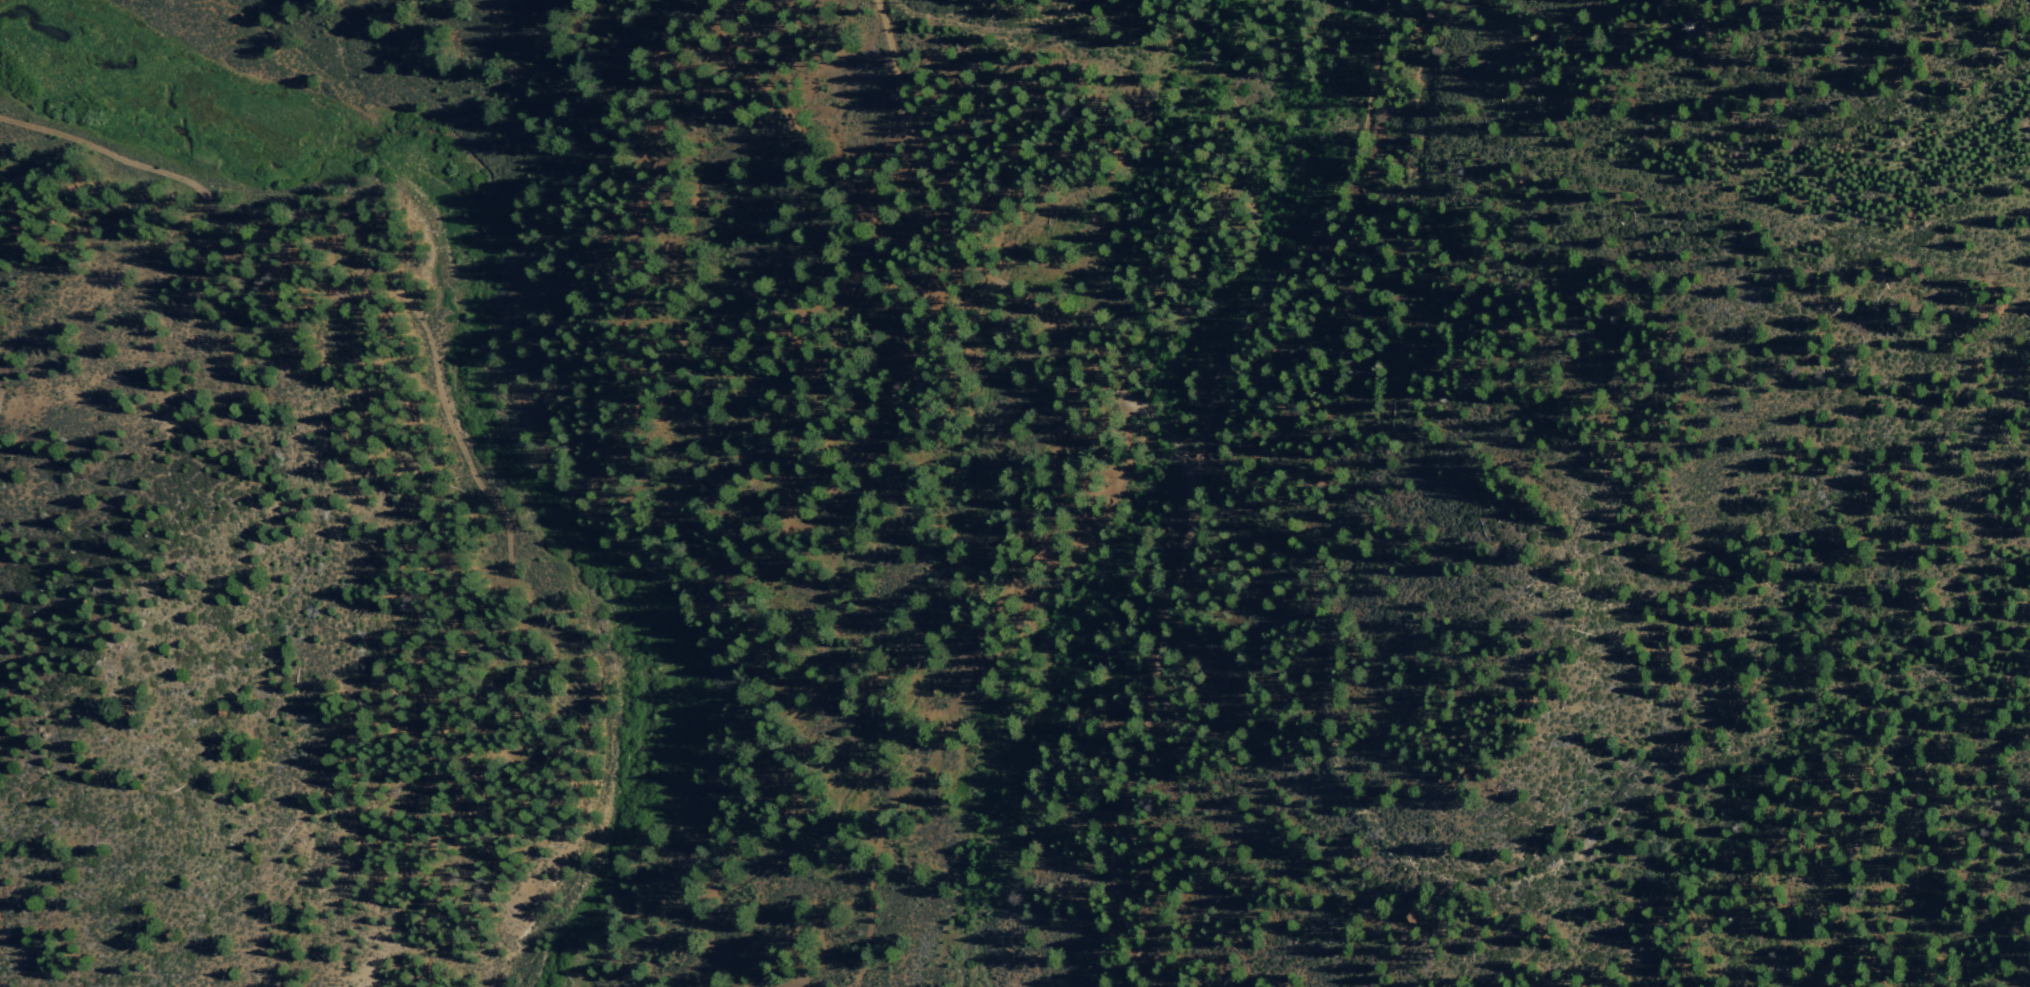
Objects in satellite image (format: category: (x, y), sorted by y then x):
road: (896, 117)
road: (806, 133)
road: (1299, 250)
road: (360, 270)
road: (1166, 564)

